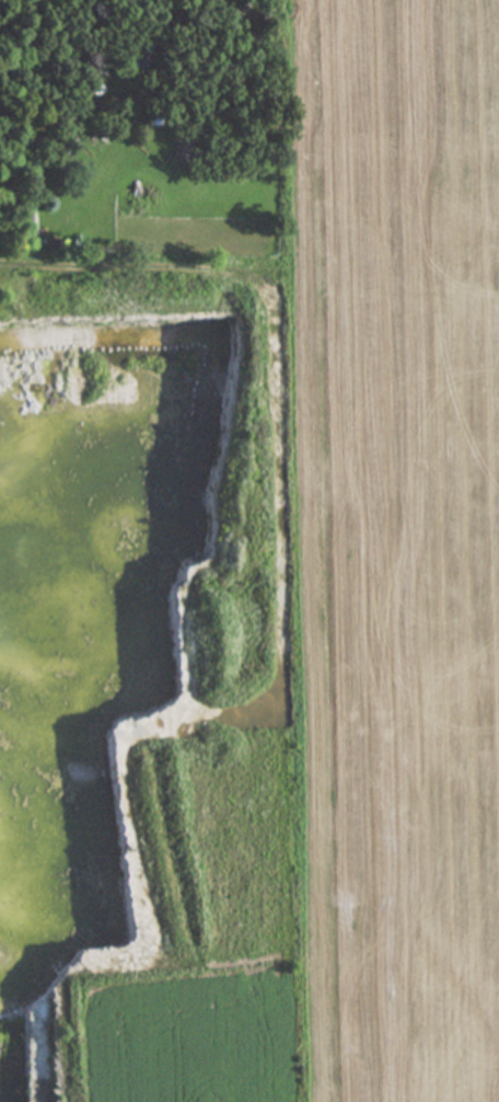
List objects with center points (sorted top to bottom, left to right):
quarry: (38, 712)

